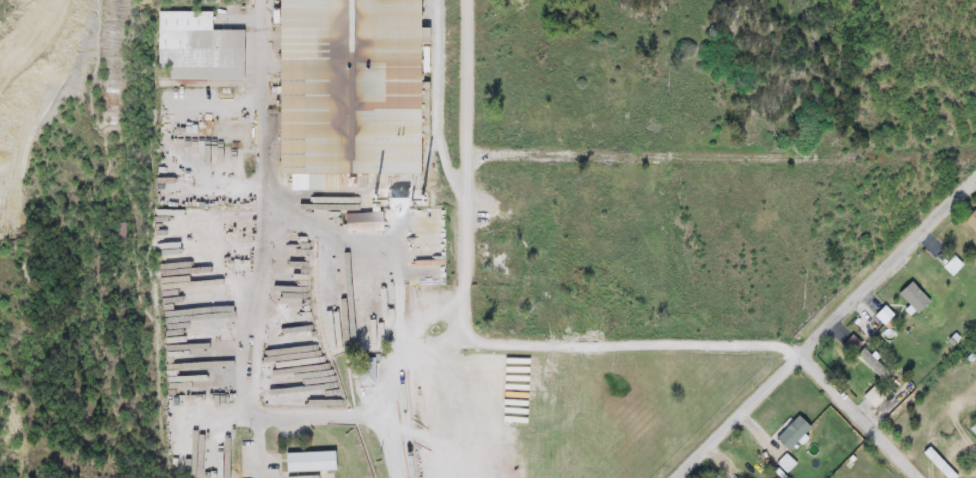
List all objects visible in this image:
building: (195, 42)
building: (344, 92)
road: (441, 97)
road: (723, 155)
building: (971, 220)
road: (463, 252)
road: (258, 280)
road: (824, 325)
road: (603, 340)
building: (364, 371)
building: (872, 397)
road: (858, 414)
building: (973, 429)
building: (307, 462)
building: (712, 476)
building: (299, 477)

